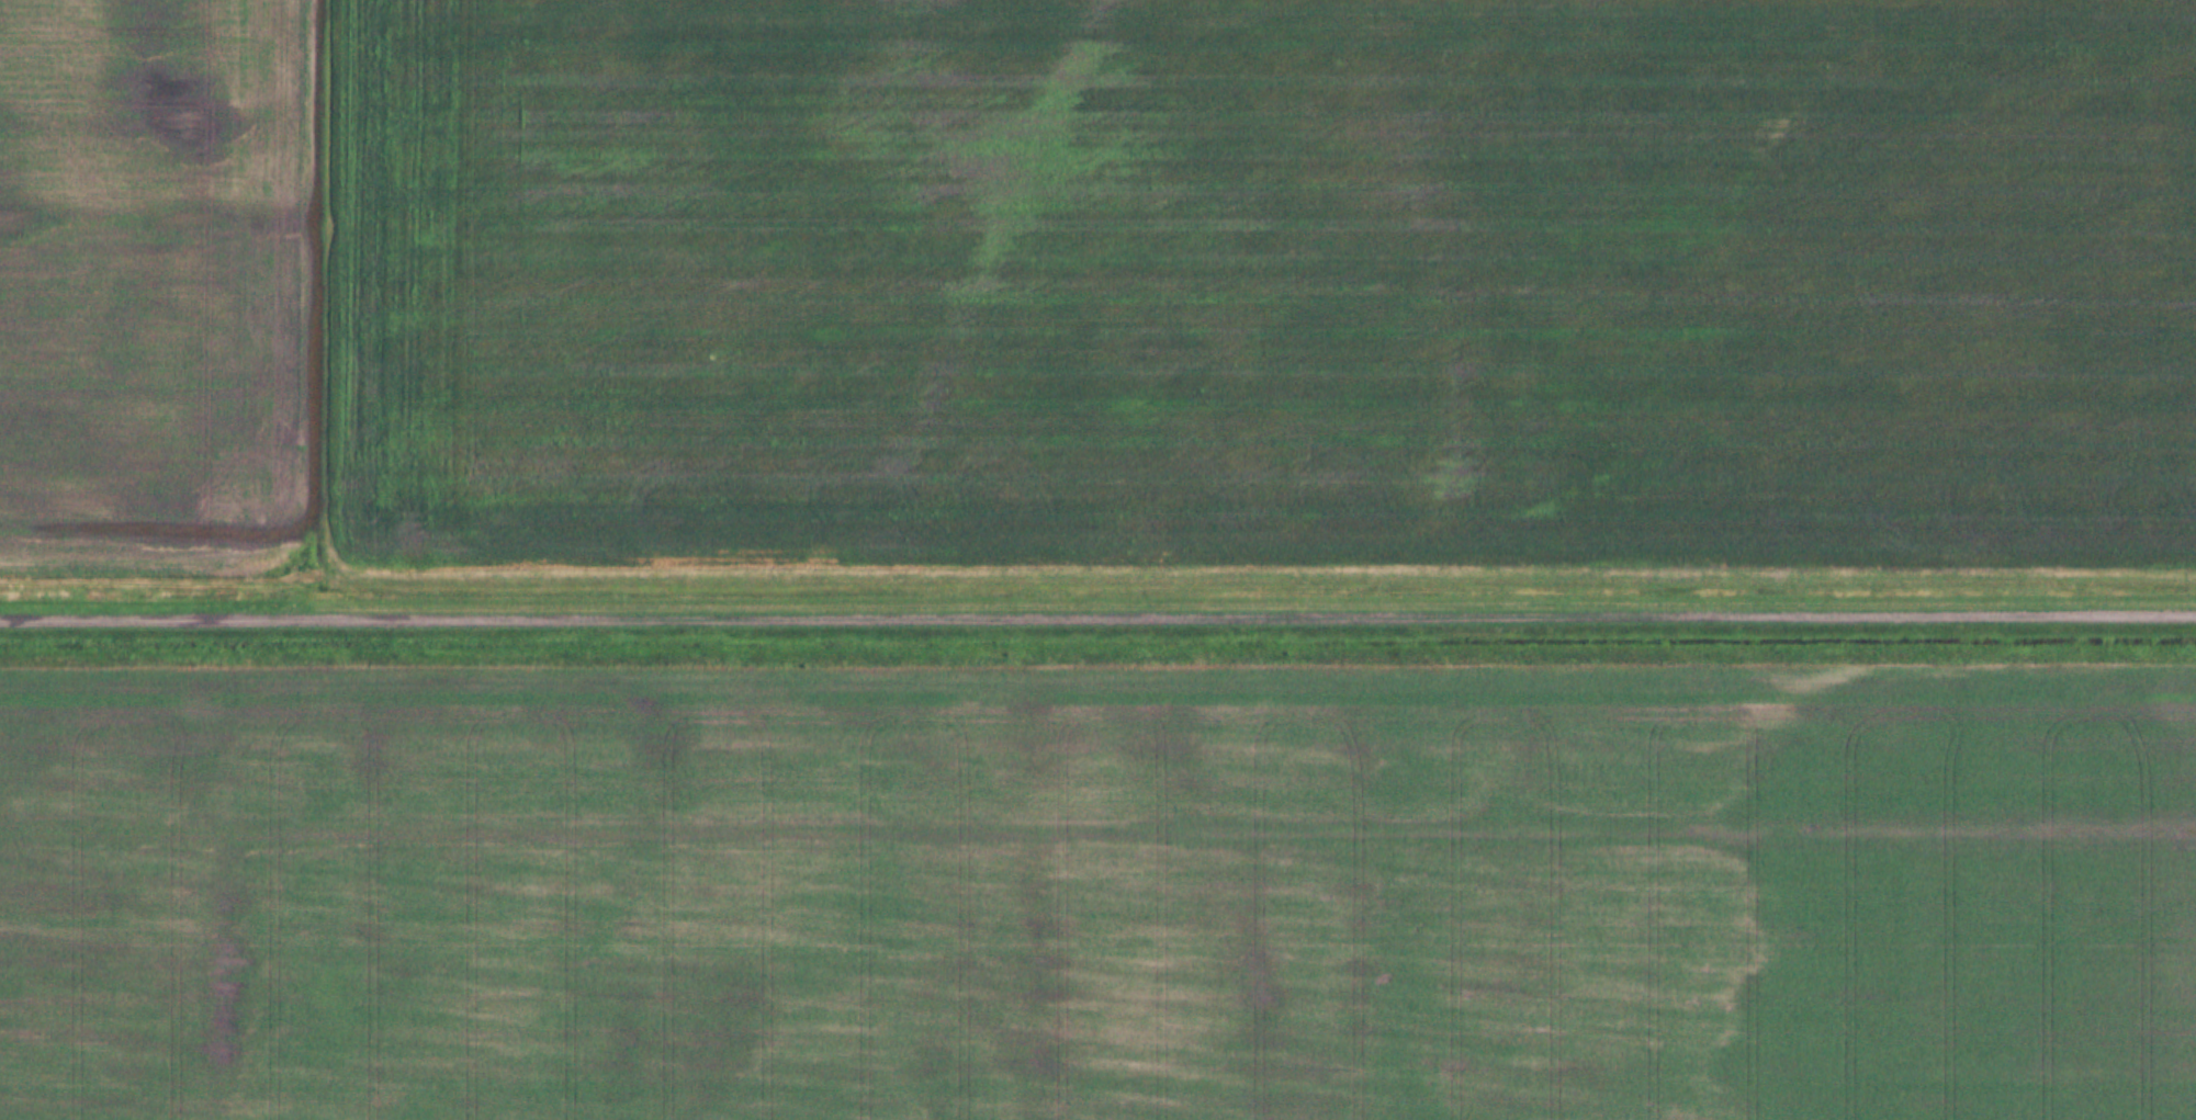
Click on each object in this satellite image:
road: (1097, 619)

